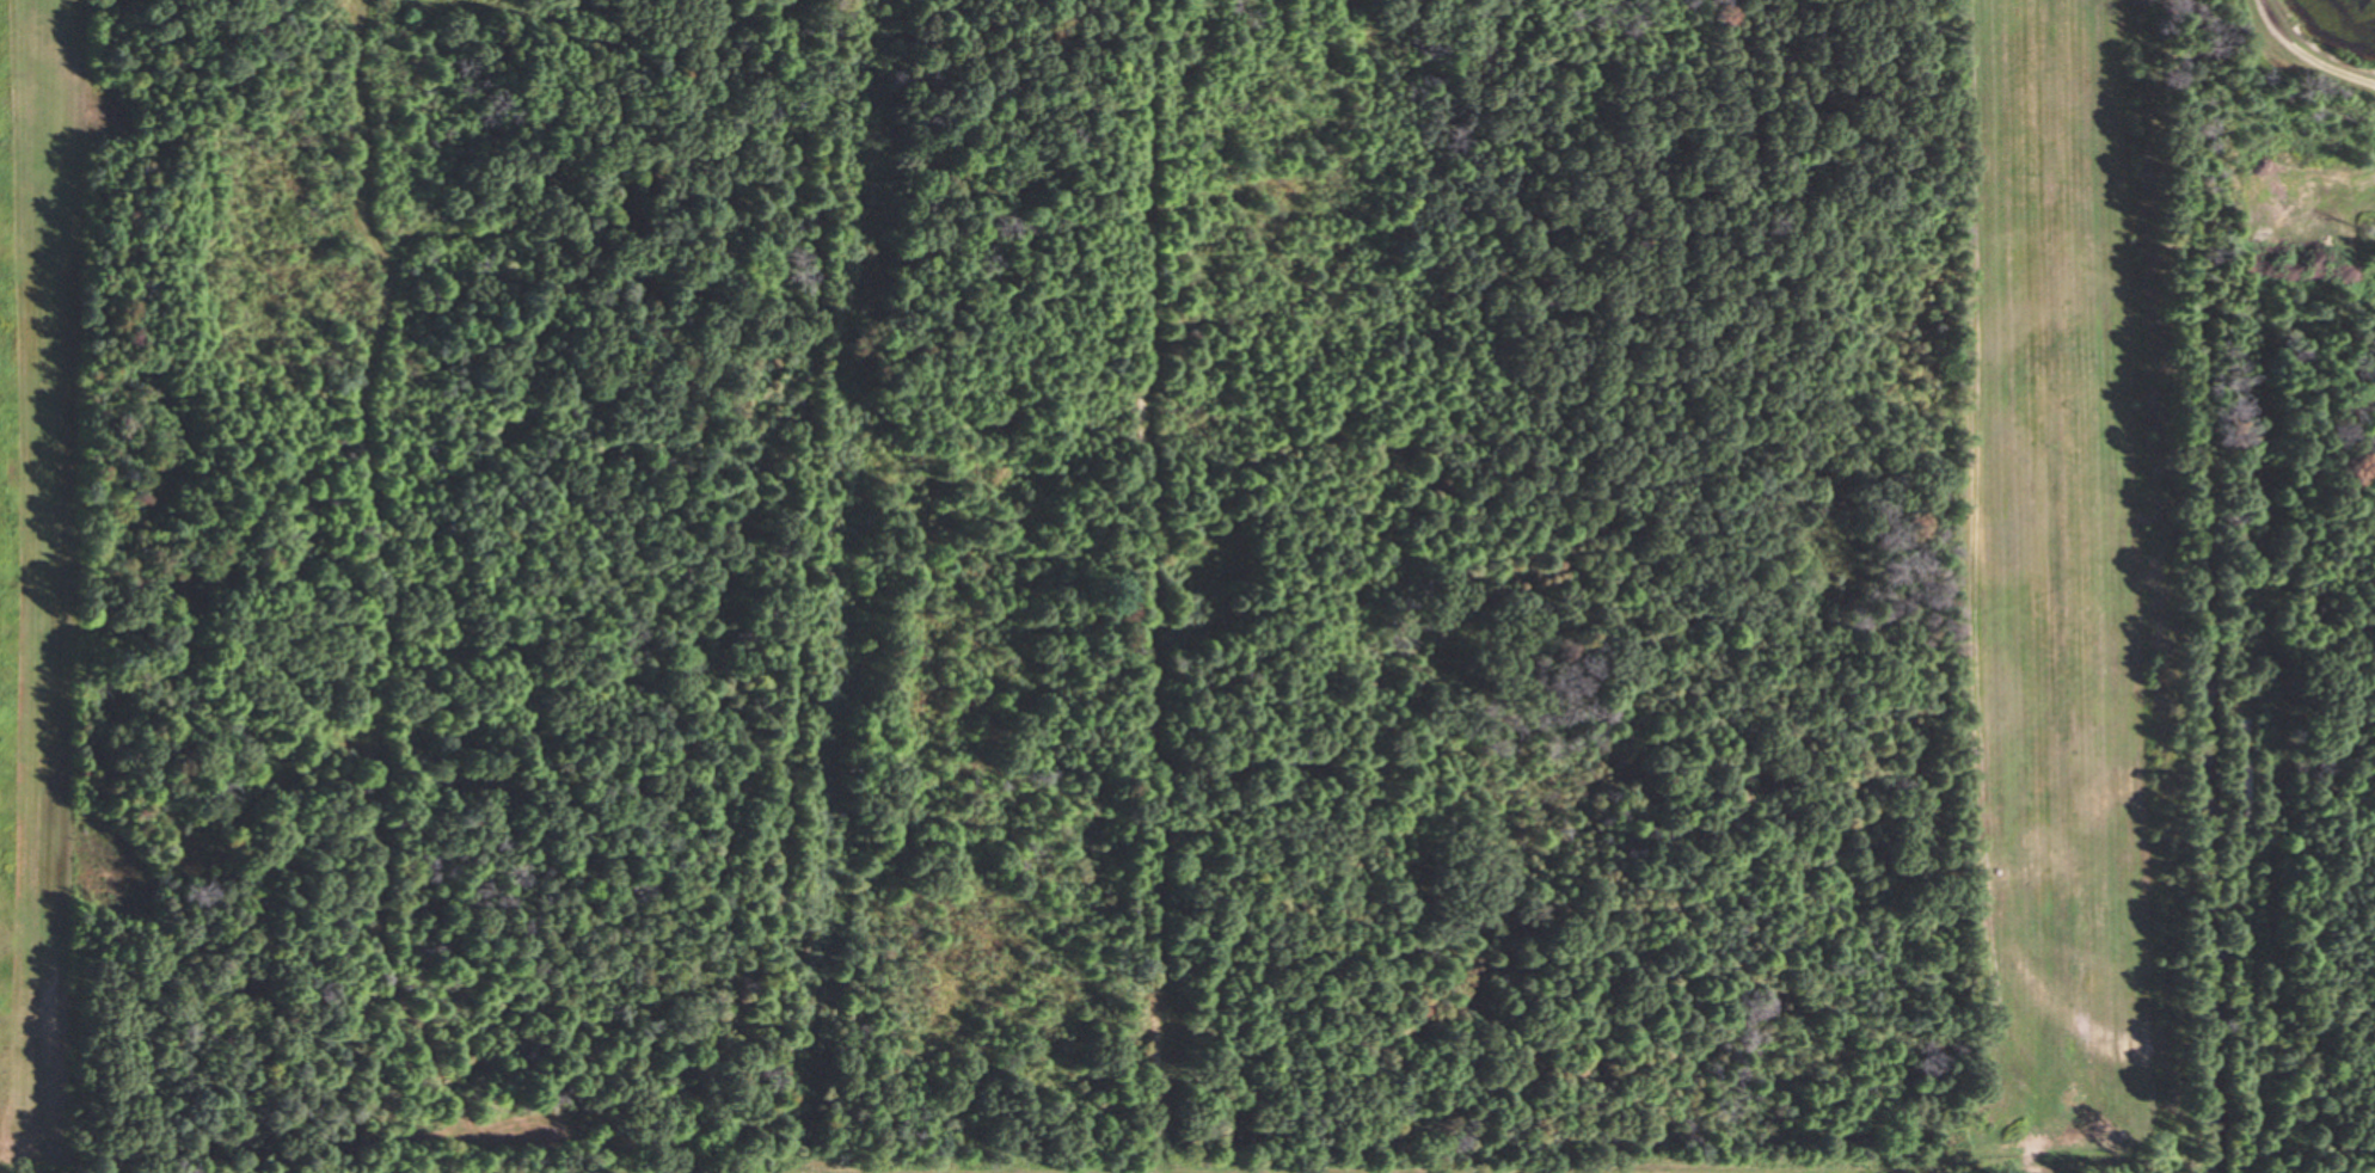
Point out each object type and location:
airport runway: (2067, 564)

